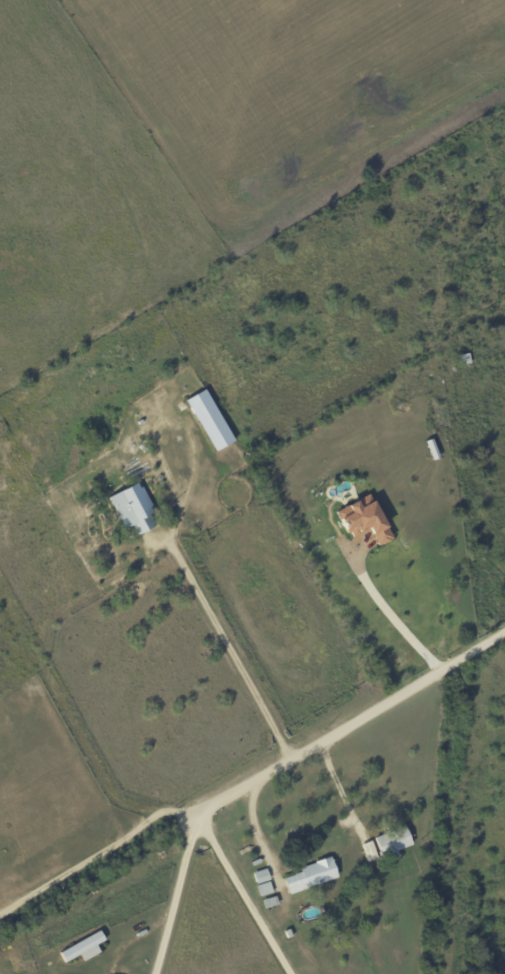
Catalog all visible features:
building: (205, 419)
building: (130, 507)
building: (360, 520)
road: (383, 619)
road: (226, 650)
road: (367, 715)
road: (338, 791)
building: (385, 845)
road: (97, 856)
building: (311, 876)
building: (261, 882)
road: (174, 894)
road: (243, 894)
building: (79, 948)

